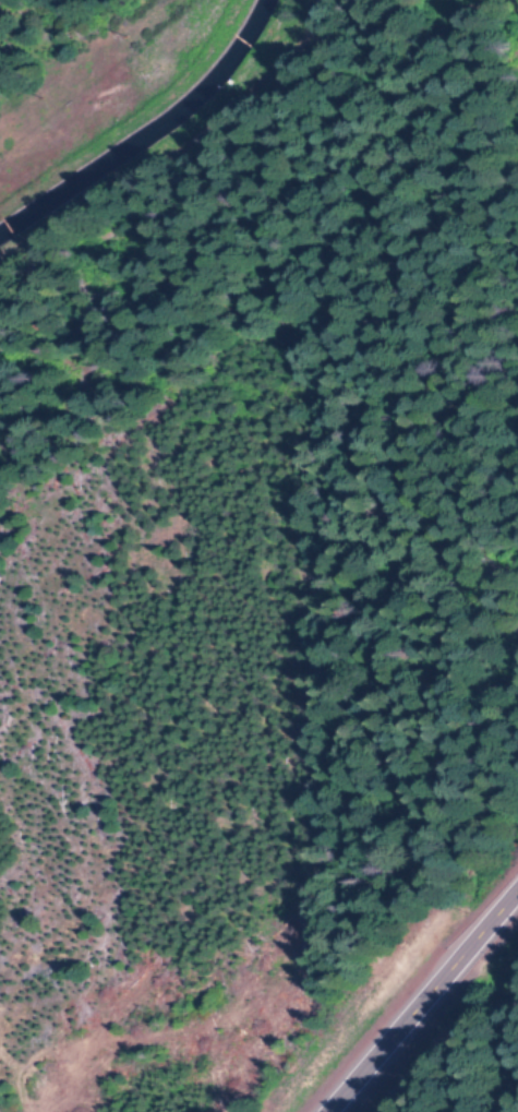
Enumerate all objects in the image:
road: (422, 1002)

